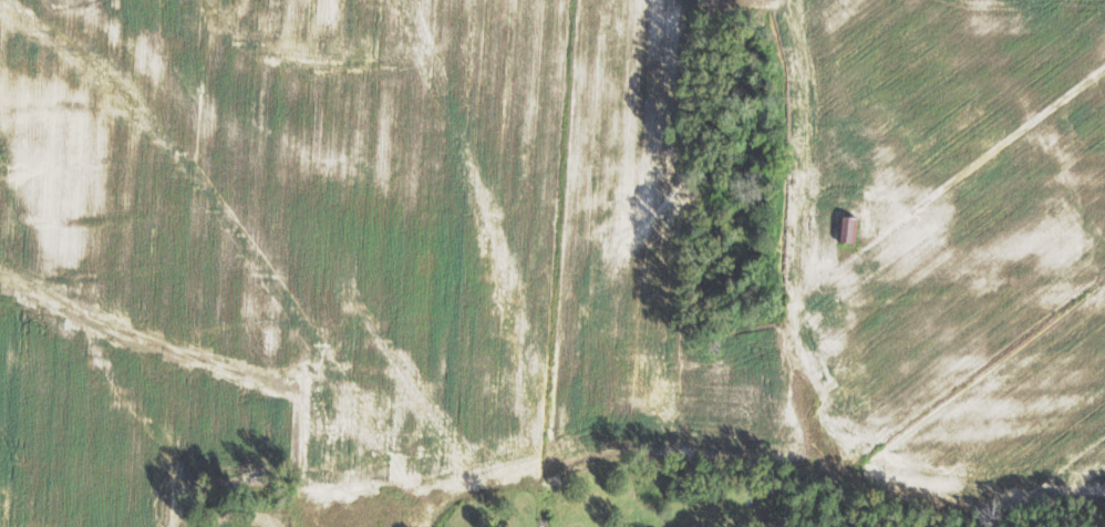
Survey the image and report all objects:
building: (853, 228)

